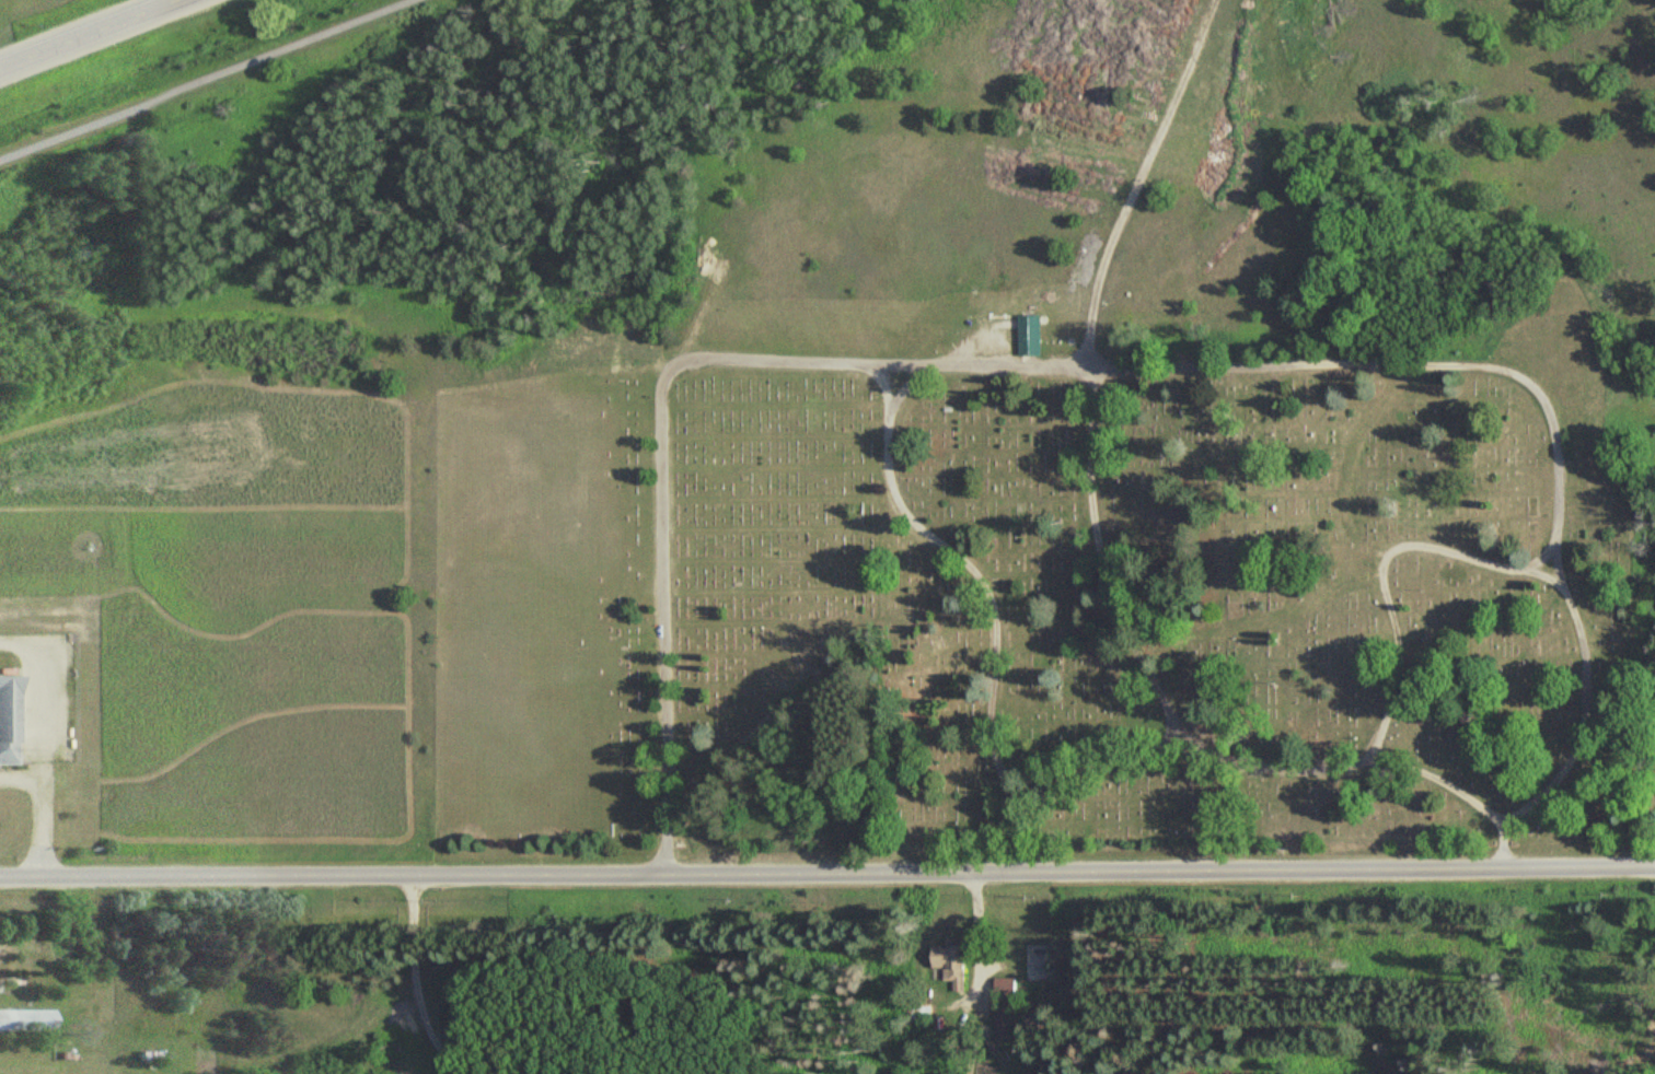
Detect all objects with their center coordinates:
road: (88, 33)
road: (209, 80)
road: (1135, 177)
building: (1030, 331)
road: (1029, 359)
road: (791, 361)
road: (906, 383)
road: (1539, 557)
road: (1384, 569)
road: (1112, 573)
park: (1147, 589)
road: (993, 600)
road: (40, 693)
building: (8, 720)
road: (1540, 794)
road: (42, 803)
road: (1503, 843)
road: (827, 872)
building: (952, 962)
building: (1007, 988)
building: (27, 1016)
building: (1007, 1017)

